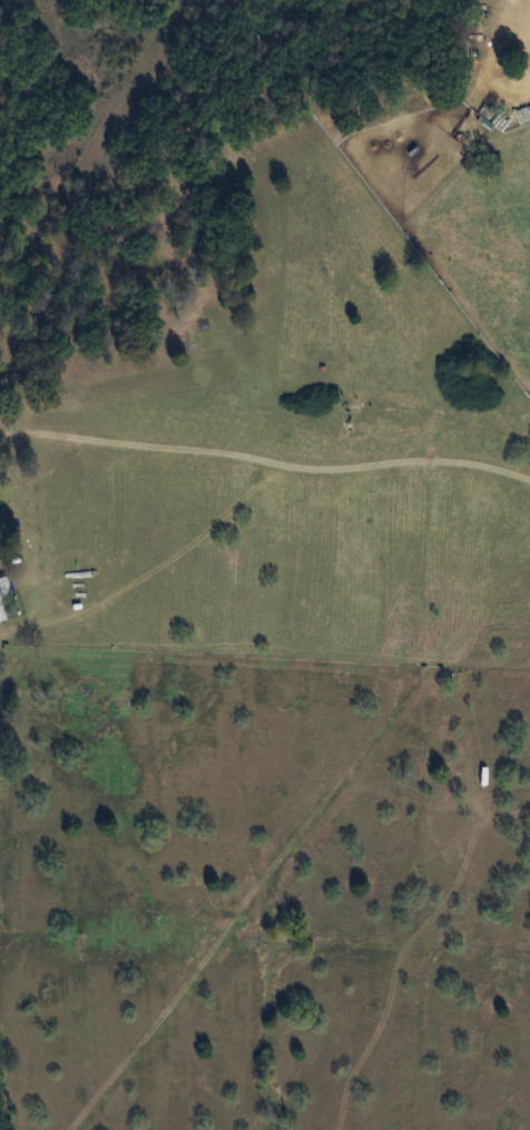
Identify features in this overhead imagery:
road: (296, 468)
building: (0, 617)

